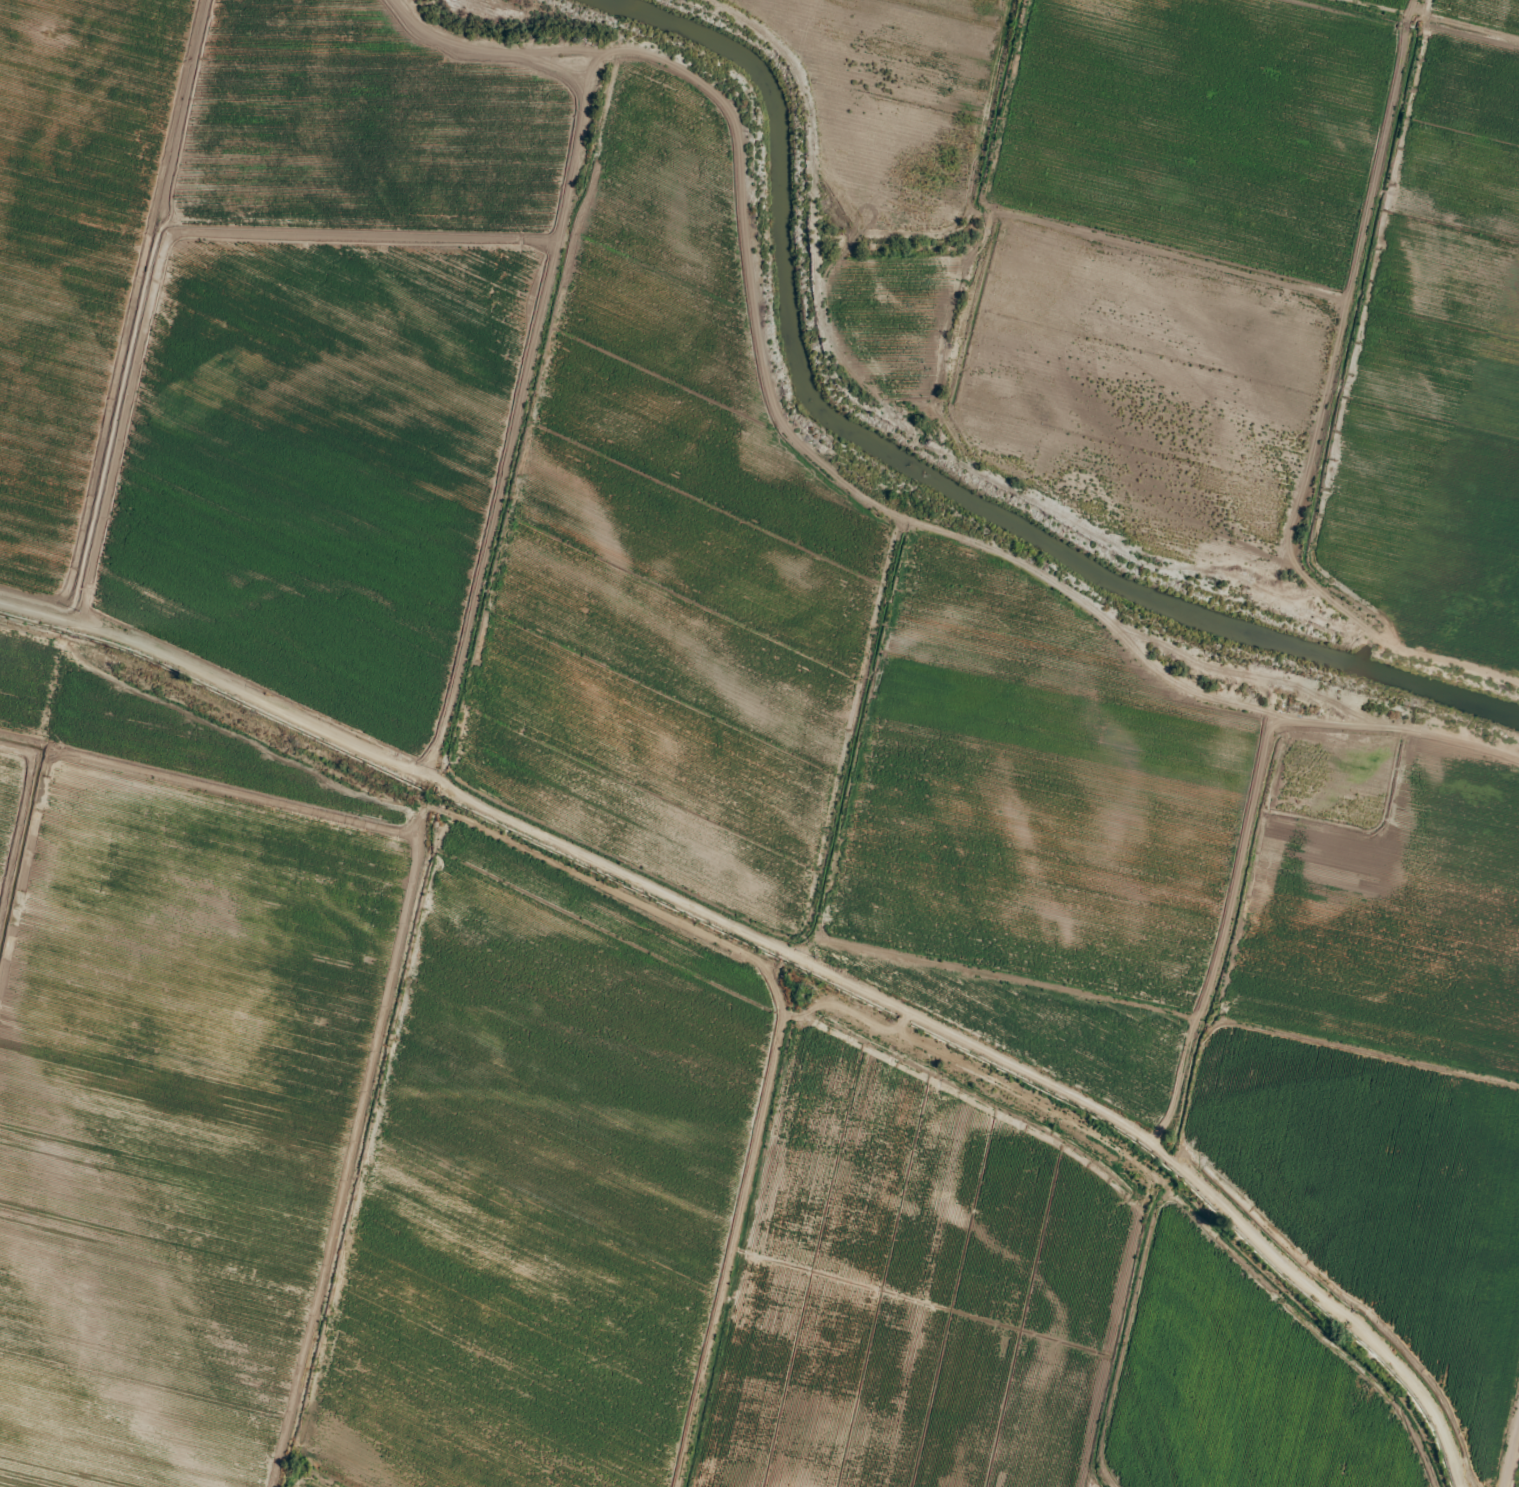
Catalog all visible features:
crop: (532, 1182)

